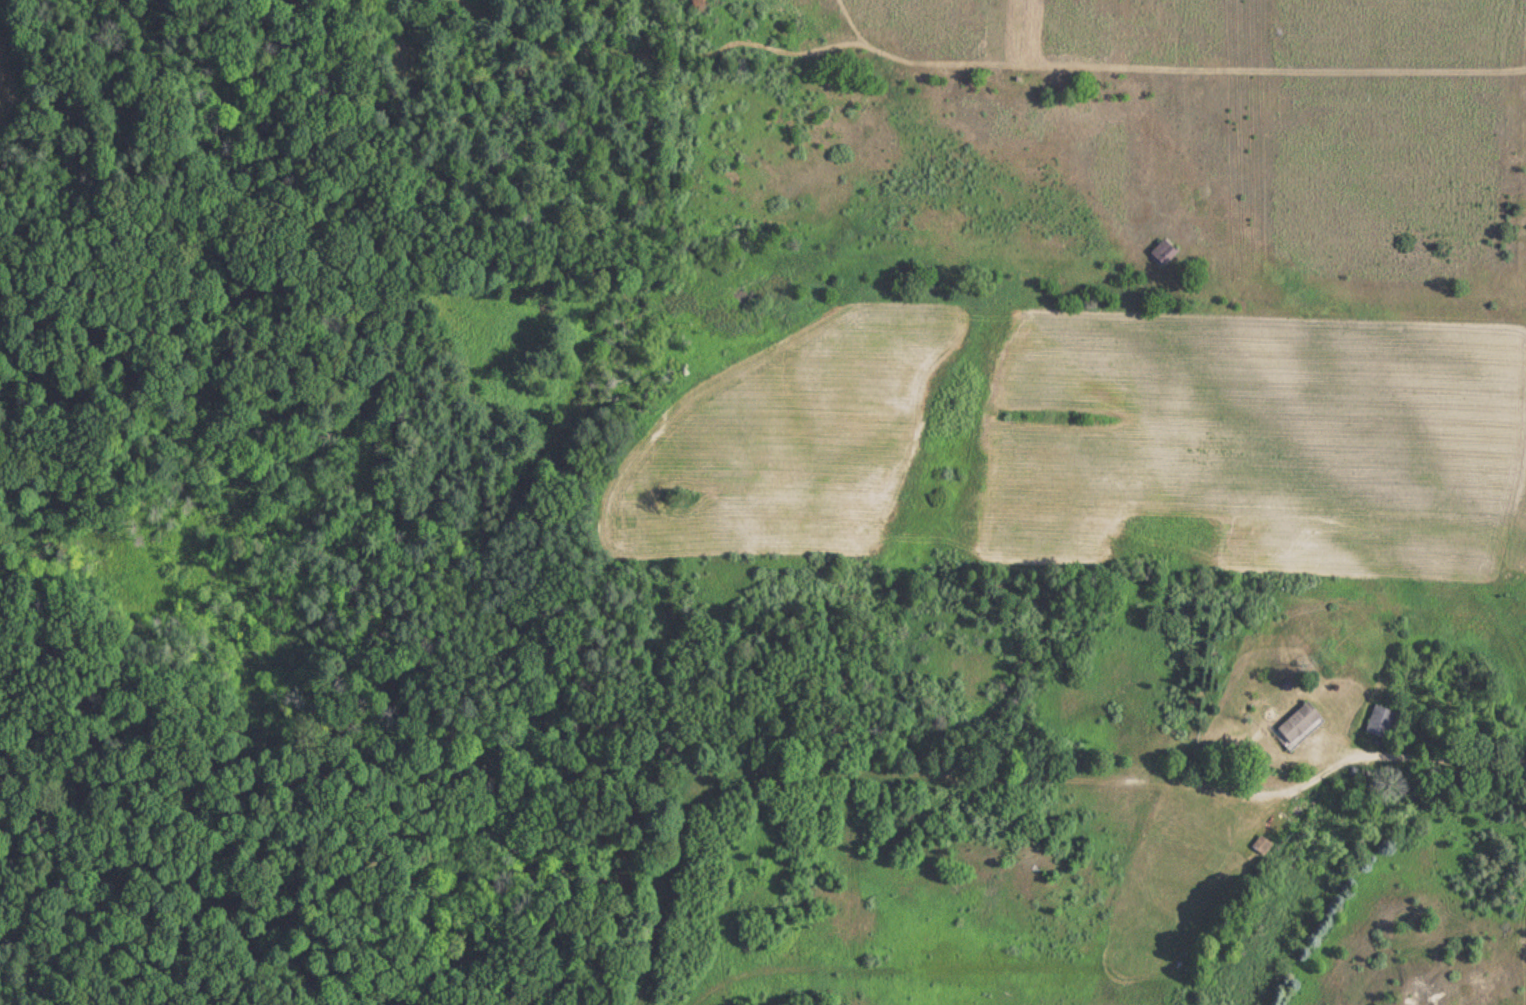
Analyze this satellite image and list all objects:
building: (1161, 251)
building: (1377, 721)
building: (1295, 725)

